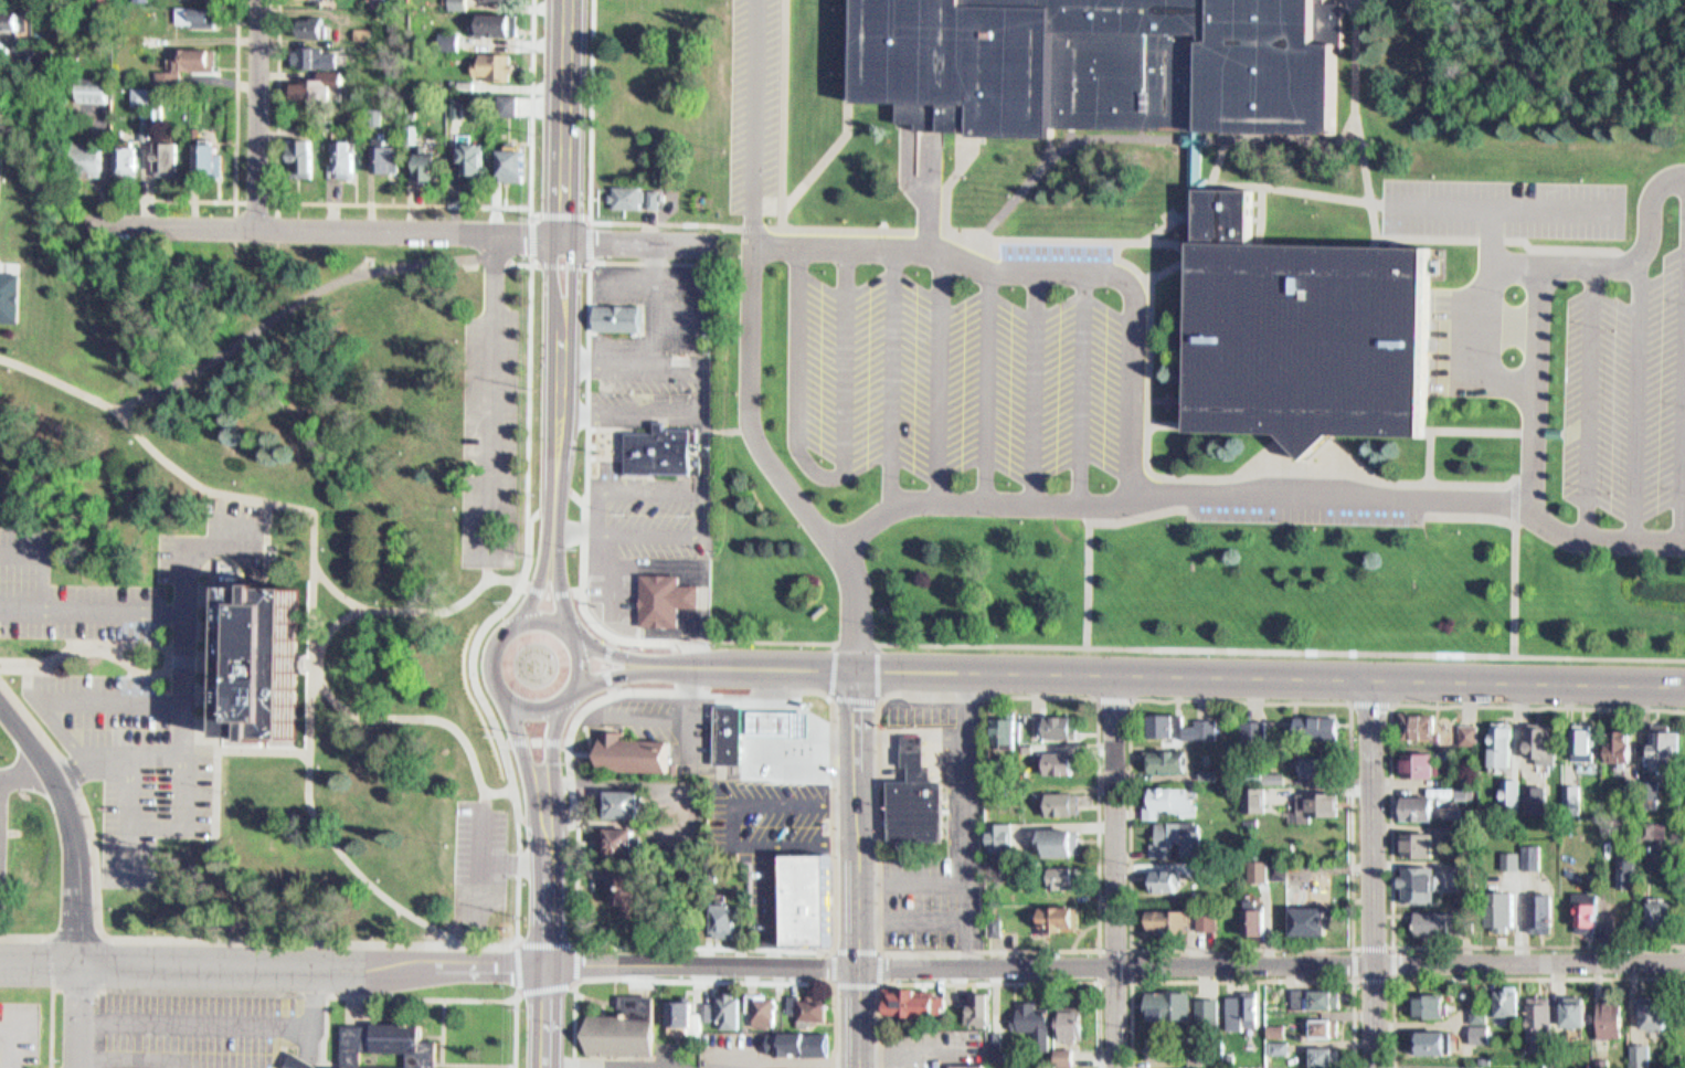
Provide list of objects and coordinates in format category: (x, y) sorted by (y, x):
building: (142, 0)
building: (506, 0)
building: (380, 3)
building: (462, 4)
building: (195, 9)
building: (7, 13)
building: (497, 18)
building: (307, 19)
building: (317, 25)
building: (362, 27)
building: (447, 32)
building: (312, 51)
building: (183, 56)
building: (492, 57)
building: (1106, 62)
road: (1354, 71)
building: (464, 76)
building: (311, 77)
building: (88, 85)
building: (135, 87)
building: (139, 96)
building: (453, 96)
building: (505, 96)
parking lot: (755, 104)
building: (369, 107)
road: (257, 113)
road: (783, 113)
road: (846, 114)
building: (158, 115)
building: (140, 125)
building: (407, 126)
road: (235, 141)
road: (1064, 146)
building: (381, 149)
building: (162, 151)
building: (204, 151)
building: (297, 151)
building: (468, 151)
building: (120, 152)
building: (339, 154)
building: (512, 155)
building: (478, 156)
road: (1218, 160)
building: (422, 161)
building: (86, 165)
building: (433, 165)
building: (1197, 167)
road: (950, 180)
road: (1296, 188)
road: (587, 189)
building: (637, 191)
road: (256, 200)
road: (409, 202)
parking lot: (1506, 208)
road: (755, 225)
road: (1164, 226)
road: (404, 230)
road: (982, 234)
road: (1376, 236)
road: (553, 260)
road: (13, 262)
road: (1172, 263)
road: (559, 265)
road: (1045, 271)
road: (750, 285)
building: (8, 289)
road: (1543, 297)
building: (617, 317)
road: (261, 329)
building: (1311, 330)
parking lot: (963, 360)
road: (939, 377)
road: (891, 378)
road: (983, 387)
road: (1035, 387)
road: (1081, 388)
parking lot: (1626, 395)
road: (1638, 395)
road: (1590, 401)
parking lot: (700, 410)
road: (529, 421)
road: (1169, 423)
road: (583, 425)
road: (1479, 433)
building: (661, 450)
road: (1293, 457)
road: (1434, 458)
road: (1337, 459)
road: (826, 476)
road: (1683, 476)
road: (1207, 477)
road: (1258, 494)
road: (575, 497)
road: (1518, 504)
road: (532, 512)
road: (1088, 541)
road: (18, 542)
road: (1517, 546)
road: (188, 548)
road: (242, 580)
road: (289, 581)
road: (558, 581)
road: (534, 583)
road: (549, 591)
building: (668, 599)
road: (854, 603)
road: (411, 606)
road: (537, 616)
road: (589, 617)
road: (722, 639)
road: (181, 646)
road: (310, 647)
road: (1281, 653)
road: (621, 654)
road: (467, 655)
road: (489, 655)
road: (114, 658)
road: (581, 660)
building: (261, 662)
road: (604, 665)
road: (622, 673)
road: (1020, 676)
parking lot: (119, 683)
road: (1525, 686)
road: (47, 691)
road: (1370, 696)
road: (1113, 699)
road: (877, 701)
road: (531, 707)
road: (581, 708)
parking lot: (921, 708)
road: (382, 711)
building: (1412, 718)
building: (776, 719)
road: (833, 720)
building: (999, 720)
building: (1176, 720)
building: (1057, 721)
building: (1315, 721)
building: (1460, 725)
building: (1251, 726)
building: (733, 731)
building: (1472, 733)
building: (1532, 734)
building: (1495, 736)
building: (1576, 736)
building: (1613, 736)
road: (910, 738)
building: (1026, 738)
road: (533, 739)
building: (1655, 740)
building: (1507, 743)
building: (1546, 743)
building: (1587, 743)
road: (519, 746)
road: (920, 746)
road: (221, 747)
road: (550, 747)
road: (128, 748)
building: (1623, 749)
building: (1668, 749)
building: (637, 751)
building: (1162, 753)
building: (1413, 755)
building: (1056, 757)
road: (910, 758)
building: (1306, 761)
building: (1205, 765)
building: (1320, 766)
road: (23, 773)
building: (1254, 781)
building: (1502, 783)
building: (1453, 785)
building: (1514, 791)
building: (1561, 791)
building: (1527, 792)
building: (1167, 794)
building: (1539, 794)
building: (617, 796)
building: (1058, 796)
building: (921, 799)
building: (1312, 799)
building: (1411, 799)
building: (1572, 799)
road: (127, 811)
road: (1391, 818)
road: (965, 821)
building: (1444, 823)
parking lot: (2, 825)
road: (68, 826)
parking lot: (770, 827)
building: (1175, 831)
building: (996, 832)
building: (613, 834)
building: (1055, 834)
building: (1411, 835)
building: (627, 839)
building: (1422, 843)
road: (92, 847)
building: (1523, 848)
building: (1502, 852)
building: (1453, 859)
building: (1617, 860)
building: (1255, 863)
road: (856, 868)
building: (1059, 869)
building: (1629, 869)
road: (911, 873)
road: (1112, 874)
building: (1159, 874)
road: (1369, 875)
building: (1412, 875)
building: (623, 888)
parking lot: (918, 892)
building: (801, 895)
building: (1578, 901)
building: (1497, 902)
building: (1651, 903)
building: (1533, 905)
building: (1508, 909)
road: (911, 911)
building: (1052, 911)
building: (1545, 911)
building: (1591, 911)
building: (719, 912)
building: (1665, 912)
building: (1164, 913)
building: (1205, 913)
building: (1304, 913)
building: (1251, 914)
building: (1431, 914)
building: (729, 919)
building: (992, 919)
road: (51, 929)
road: (545, 937)
road: (595, 941)
road: (1352, 941)
road: (411, 944)
road: (1098, 945)
road: (833, 948)
road: (516, 949)
road: (47, 958)
road: (1528, 958)
road: (686, 964)
road: (1494, 975)
road: (699, 977)
road: (1393, 977)
road: (1243, 980)
road: (987, 981)
road: (1128, 982)
building: (1314, 993)
building: (1503, 996)
road: (424, 997)
building: (910, 997)
building: (1426, 997)
building: (973, 1001)
building: (1163, 1002)
building: (1205, 1002)
building: (720, 1003)
building: (759, 1003)
building: (1238, 1003)
building: (808, 1004)
building: (1644, 1004)
building: (1570, 1005)
building: (675, 1006)
building: (1025, 1008)
building: (1603, 1008)
building: (982, 1009)
building: (1581, 1011)
road: (73, 1015)
building: (1536, 1015)
building: (687, 1016)
building: (1476, 1016)
building: (1617, 1016)
building: (1064, 1018)
building: (1322, 1021)
building: (1273, 1022)
parking lot: (200, 1026)
road: (49, 1027)
building: (626, 1027)
parking lot: (15, 1032)
building: (1427, 1034)
building: (798, 1036)
building: (1153, 1039)
building: (1275, 1039)
building: (370, 1043)
building: (1631, 1046)
building: (1163, 1048)
building: (1061, 1049)
building: (1323, 1049)
building: (1227, 1050)
building: (1592, 1058)
building: (964, 1061)
road: (447, 1064)
building: (1206, 1064)
building: (1504, 1064)
building: (781, 1065)
building: (1427, 1066)
building: (136, 1067)
building: (1060, 1067)
building: (1566, 1067)

